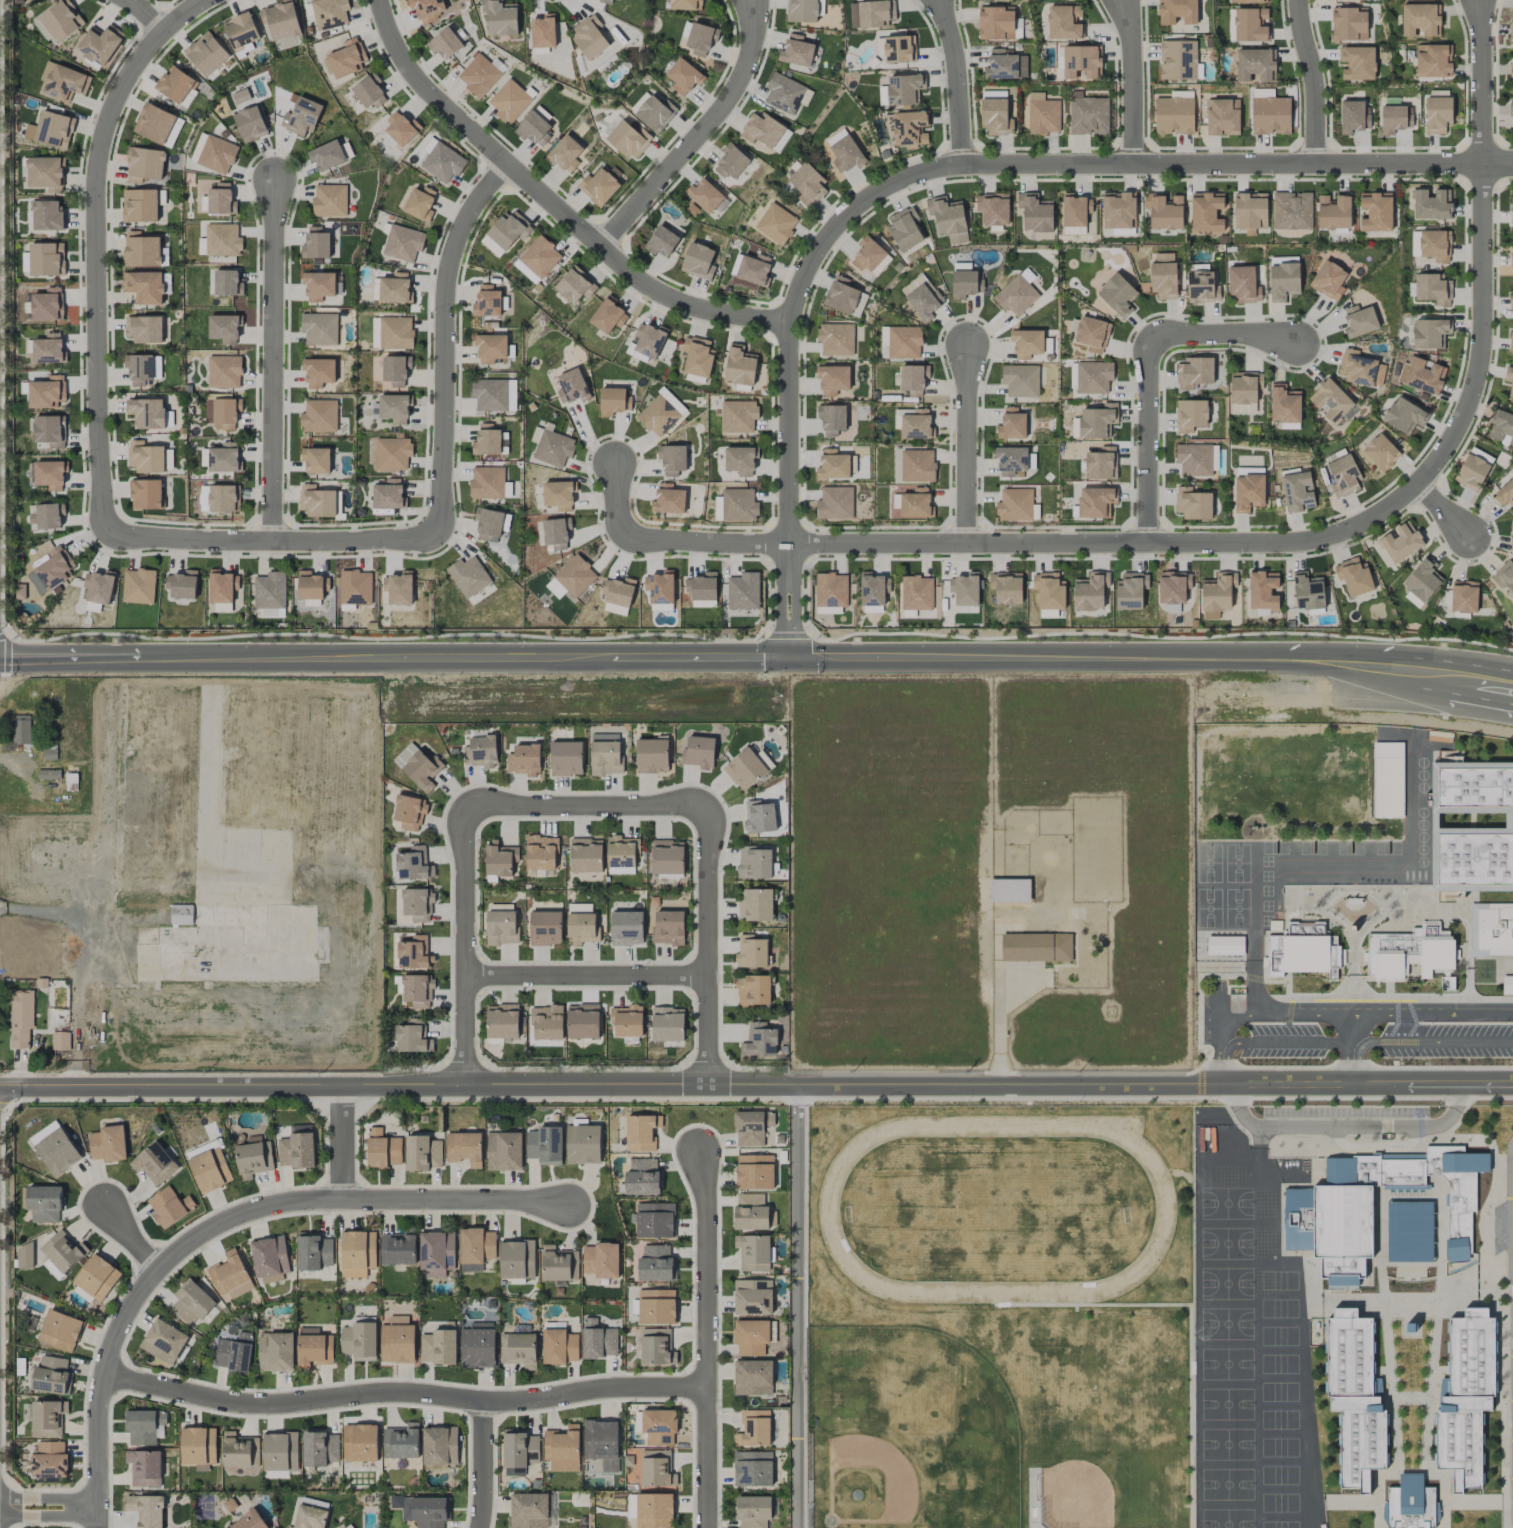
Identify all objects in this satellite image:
building: (620, 0)
building: (1070, 0)
building: (1327, 0)
building: (605, 1)
building: (1248, 1)
building: (685, 5)
building: (426, 9)
building: (801, 11)
building: (1177, 11)
building: (329, 13)
building: (871, 13)
road: (145, 17)
building: (500, 18)
building: (1421, 19)
building: (280, 20)
building: (59, 21)
building: (996, 23)
building: (1062, 23)
building: (1349, 24)
building: (1251, 25)
building: (241, 32)
building: (543, 32)
building: (1510, 32)
building: (589, 37)
building: (701, 39)
building: (444, 44)
building: (99, 45)
building: (896, 48)
building: (796, 51)
building: (206, 54)
building: (346, 59)
building: (1178, 60)
building: (1433, 61)
building: (1078, 62)
building: (1357, 62)
building: (1256, 64)
building: (1005, 66)
building: (479, 76)
building: (683, 76)
building: (1511, 76)
road: (957, 81)
building: (63, 82)
road: (1132, 82)
road: (1315, 82)
building: (175, 84)
building: (904, 89)
building: (369, 92)
building: (783, 93)
building: (241, 96)
building: (509, 102)
building: (1511, 109)
building: (655, 113)
building: (1043, 114)
building: (1087, 115)
building: (1174, 115)
building: (1270, 115)
building: (1437, 115)
building: (994, 116)
building: (1353, 116)
building: (301, 117)
building: (1222, 117)
building: (1395, 119)
building: (153, 123)
building: (250, 124)
building: (910, 128)
building: (51, 129)
building: (175, 129)
building: (401, 129)
building: (533, 129)
building: (762, 130)
road: (699, 134)
building: (836, 136)
building: (628, 139)
building: (565, 154)
building: (217, 155)
building: (846, 155)
building: (326, 156)
building: (442, 162)
building: (731, 162)
building: (144, 164)
road: (943, 168)
building: (45, 173)
building: (807, 185)
building: (598, 186)
building: (705, 195)
building: (220, 200)
building: (329, 200)
building: (420, 204)
road: (551, 204)
building: (1432, 204)
building: (140, 206)
building: (993, 209)
building: (1511, 209)
building: (1075, 210)
building: (1118, 210)
building: (1164, 211)
building: (1250, 211)
building: (1291, 211)
building: (1334, 211)
building: (1376, 211)
building: (1206, 212)
building: (1035, 213)
building: (47, 215)
building: (948, 219)
building: (776, 224)
building: (509, 229)
building: (905, 229)
building: (222, 240)
building: (662, 242)
building: (403, 243)
building: (316, 244)
building: (1435, 245)
building: (491, 246)
road: (98, 250)
building: (141, 250)
building: (869, 256)
building: (540, 257)
building: (46, 259)
building: (1511, 259)
building: (698, 261)
building: (754, 269)
building: (525, 271)
building: (1163, 276)
building: (1328, 280)
building: (1283, 281)
building: (227, 283)
building: (965, 284)
building: (574, 285)
building: (1243, 285)
building: (318, 286)
building: (144, 287)
building: (1201, 287)
building: (395, 289)
building: (1433, 289)
building: (1117, 295)
building: (1015, 296)
building: (1511, 296)
building: (844, 297)
building: (487, 302)
building: (47, 305)
building: (608, 315)
building: (1359, 321)
building: (224, 328)
building: (144, 329)
building: (319, 329)
building: (395, 333)
building: (1430, 333)
building: (1092, 334)
building: (836, 339)
building: (646, 342)
building: (883, 342)
building: (904, 342)
building: (1510, 342)
road: (446, 343)
building: (1026, 343)
building: (490, 347)
building: (48, 349)
building: (697, 356)
road: (275, 359)
building: (740, 366)
road: (1147, 367)
building: (139, 369)
building: (1361, 369)
building: (396, 370)
building: (224, 372)
building: (318, 372)
building: (1194, 372)
building: (1423, 376)
building: (913, 377)
building: (1093, 377)
building: (832, 379)
building: (1020, 380)
building: (1509, 380)
building: (571, 387)
building: (1244, 387)
building: (46, 392)
building: (489, 394)
building: (511, 395)
building: (613, 401)
building: (1330, 401)
building: (1284, 404)
building: (395, 408)
building: (146, 413)
building: (222, 413)
building: (660, 413)
building: (1191, 415)
building: (319, 416)
building: (738, 416)
building: (1404, 416)
building: (832, 419)
building: (1097, 421)
building: (1011, 424)
building: (916, 425)
building: (1501, 427)
building: (50, 431)
building: (487, 441)
road: (966, 444)
building: (553, 448)
building: (1380, 453)
building: (392, 454)
building: (1481, 455)
building: (145, 457)
building: (1214, 457)
building: (224, 458)
building: (672, 459)
building: (1194, 459)
building: (316, 460)
building: (740, 460)
building: (1011, 461)
building: (1101, 463)
building: (832, 465)
building: (917, 465)
building: (1471, 472)
building: (50, 475)
building: (1343, 476)
building: (487, 483)
building: (1248, 492)
building: (1297, 492)
building: (146, 494)
building: (388, 494)
building: (1505, 494)
building: (559, 495)
building: (223, 498)
building: (668, 500)
building: (319, 501)
road: (616, 502)
building: (1096, 502)
building: (835, 503)
building: (1193, 504)
building: (738, 505)
building: (911, 505)
building: (1015, 505)
road: (1443, 510)
building: (48, 515)
building: (488, 524)
building: (556, 532)
building: (1512, 540)
road: (273, 541)
building: (1400, 542)
road: (1277, 545)
building: (51, 571)
building: (1504, 575)
building: (468, 576)
building: (575, 576)
building: (1354, 576)
building: (1423, 579)
building: (182, 584)
building: (311, 585)
building: (138, 586)
building: (222, 586)
building: (99, 587)
building: (355, 587)
building: (660, 587)
building: (702, 587)
building: (1173, 587)
building: (399, 588)
building: (1006, 588)
building: (555, 589)
building: (873, 589)
building: (965, 589)
building: (270, 590)
building: (1049, 590)
building: (1131, 590)
building: (1263, 590)
building: (618, 591)
building: (743, 591)
building: (1090, 591)
building: (1308, 591)
building: (1218, 592)
building: (830, 593)
building: (916, 593)
building: (1464, 596)
building: (1412, 599)
building: (615, 609)
building: (272, 613)
building: (1210, 615)
road: (376, 659)
road: (702, 659)
road: (1102, 659)
road: (70, 660)
road: (1460, 670)
road: (1511, 676)
building: (21, 729)
building: (604, 737)
building: (481, 752)
building: (698, 752)
building: (652, 756)
building: (566, 758)
building: (606, 758)
building: (524, 760)
building: (765, 760)
building: (418, 767)
building: (745, 769)
building: (1388, 780)
road: (587, 806)
building: (409, 812)
building: (759, 817)
building: (1472, 826)
building: (541, 853)
building: (586, 855)
building: (621, 855)
building: (667, 857)
building: (499, 859)
building: (754, 863)
building: (414, 864)
building: (1010, 890)
building: (755, 904)
building: (418, 905)
building: (181, 914)
building: (581, 924)
building: (501, 927)
building: (668, 927)
building: (545, 928)
building: (626, 928)
building: (1491, 929)
road: (466, 946)
building: (1223, 946)
road: (707, 947)
building: (1036, 947)
building: (1303, 951)
building: (414, 952)
building: (1409, 952)
building: (752, 953)
road: (77, 965)
road: (587, 975)
building: (1507, 985)
building: (417, 991)
building: (754, 991)
road: (1338, 1014)
building: (21, 1018)
building: (502, 1021)
building: (582, 1021)
road: (999, 1021)
building: (547, 1023)
building: (667, 1024)
building: (412, 1037)
building: (759, 1040)
building: (60, 1041)
road: (1278, 1043)
road: (1416, 1044)
road: (1346, 1050)
road: (1488, 1086)
road: (731, 1087)
road: (1236, 1095)
building: (751, 1127)
road: (1357, 1127)
building: (43, 1132)
building: (641, 1132)
building: (107, 1144)
building: (582, 1144)
road: (346, 1145)
building: (544, 1145)
building: (464, 1148)
building: (382, 1149)
building: (296, 1151)
building: (504, 1151)
building: (57, 1152)
building: (422, 1153)
building: (253, 1157)
building: (210, 1170)
building: (754, 1172)
building: (642, 1177)
building: (44, 1204)
road: (1512, 1205)
building: (169, 1207)
building: (750, 1212)
building: (1298, 1219)
building: (654, 1220)
road: (222, 1224)
building: (1409, 1231)
building: (1343, 1234)
road: (130, 1241)
building: (476, 1245)
building: (398, 1248)
building: (63, 1251)
building: (313, 1251)
building: (436, 1252)
building: (753, 1252)
building: (357, 1253)
building: (25, 1256)
building: (269, 1258)
building: (517, 1259)
building: (601, 1260)
building: (655, 1263)
building: (559, 1264)
building: (471, 1267)
building: (52, 1269)
building: (97, 1277)
building: (230, 1277)
building: (752, 1297)
building: (191, 1303)
building: (656, 1307)
road: (794, 1307)
building: (59, 1331)
building: (772, 1331)
building: (751, 1337)
building: (397, 1340)
building: (598, 1340)
building: (163, 1341)
building: (359, 1341)
road: (708, 1342)
building: (477, 1346)
building: (438, 1347)
building: (559, 1347)
building: (656, 1347)
building: (313, 1348)
building: (518, 1350)
building: (275, 1352)
building: (234, 1353)
building: (51, 1375)
building: (752, 1377)
road: (405, 1395)
building: (1465, 1397)
building: (1355, 1398)
building: (47, 1418)
building: (144, 1426)
building: (659, 1427)
building: (754, 1428)
building: (401, 1442)
building: (359, 1443)
building: (601, 1443)
building: (439, 1445)
building: (198, 1446)
building: (320, 1449)
building: (562, 1449)
building: (239, 1451)
building: (519, 1451)
building: (279, 1454)
building: (49, 1461)
road: (483, 1464)
building: (144, 1467)
building: (656, 1469)
building: (752, 1469)
building: (1409, 1503)
road: (49, 1508)
building: (146, 1510)
building: (421, 1510)
building: (528, 1510)
building: (653, 1510)
building: (753, 1511)
building: (308, 1517)
building: (249, 1521)
building: (349, 1526)

